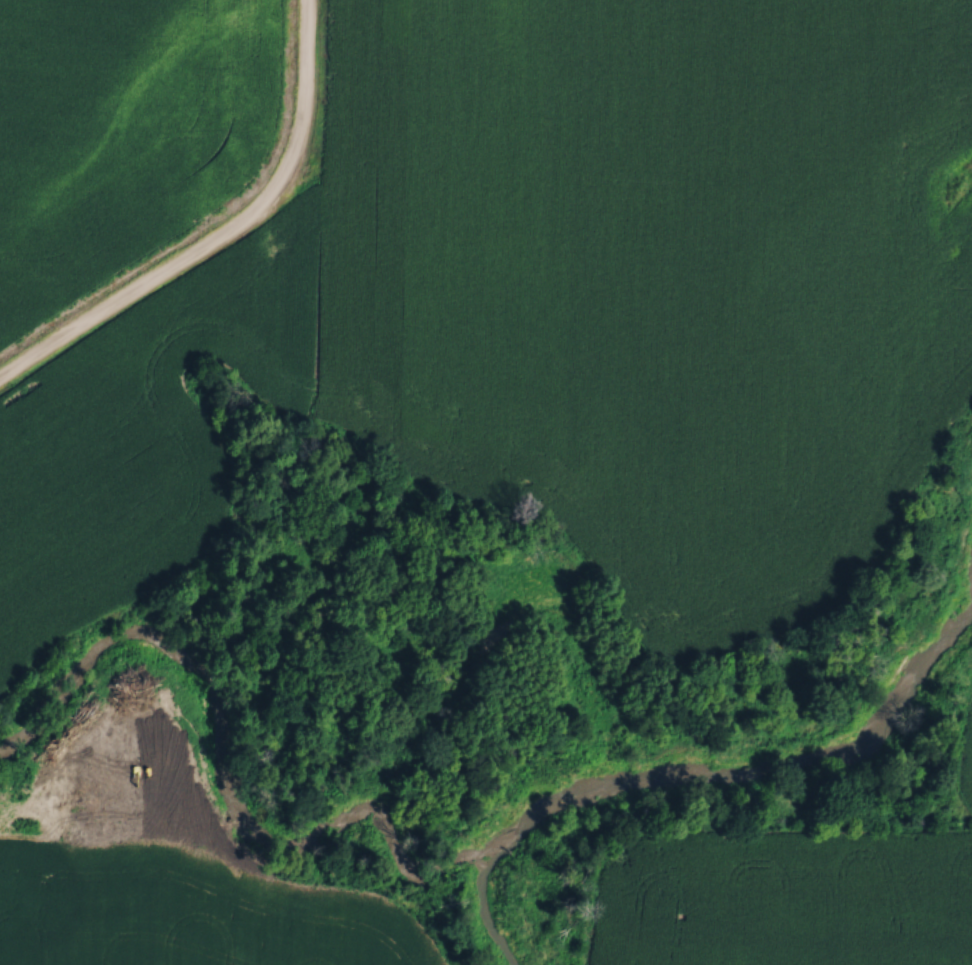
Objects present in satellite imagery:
road: (223, 236)

